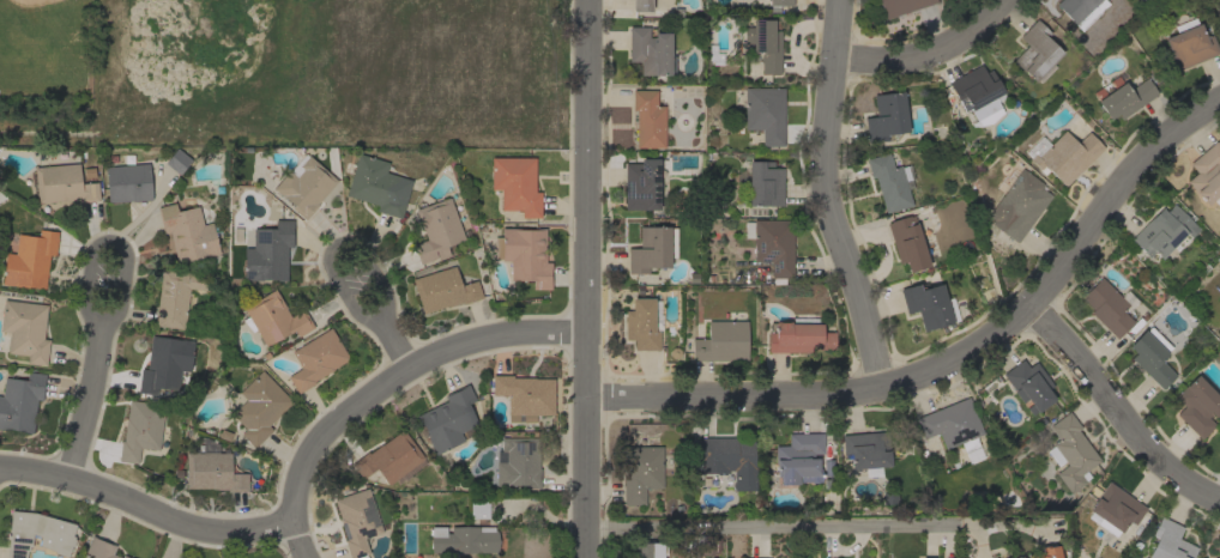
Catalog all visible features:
building: (778, 4)
building: (641, 5)
building: (900, 6)
park: (28, 7)
building: (1075, 8)
building: (763, 43)
building: (1190, 46)
road: (923, 47)
building: (650, 50)
building: (1035, 50)
park: (284, 71)
building: (977, 95)
building: (1124, 98)
building: (765, 113)
building: (886, 116)
building: (648, 119)
building: (1063, 154)
building: (177, 160)
building: (1207, 174)
building: (127, 182)
building: (889, 182)
building: (64, 183)
building: (765, 183)
building: (515, 184)
building: (641, 184)
building: (304, 186)
building: (378, 186)
road: (827, 199)
building: (1017, 202)
building: (436, 230)
building: (1164, 231)
building: (187, 232)
building: (907, 242)
road: (113, 244)
building: (772, 244)
road: (337, 247)
building: (650, 249)
building: (268, 251)
building: (524, 254)
building: (29, 260)
road: (580, 279)
building: (443, 290)
building: (177, 296)
building: (929, 304)
building: (1109, 307)
building: (273, 319)
building: (642, 323)
building: (25, 329)
building: (1218, 333)
building: (798, 335)
building: (721, 341)
road: (395, 344)
building: (1152, 358)
building: (315, 359)
road: (955, 360)
building: (164, 363)
road: (397, 376)
building: (1028, 384)
building: (524, 395)
building: (20, 401)
road: (84, 405)
building: (1197, 406)
building: (259, 407)
road: (1115, 413)
building: (449, 419)
building: (950, 426)
building: (140, 429)
building: (865, 450)
building: (1069, 451)
building: (391, 459)
building: (799, 459)
building: (727, 460)
building: (517, 463)
building: (211, 469)
building: (640, 472)
road: (144, 507)
building: (478, 508)
building: (1115, 510)
building: (356, 521)
road: (775, 526)
building: (37, 533)
building: (463, 539)
road: (297, 540)
building: (1168, 541)
building: (699, 544)
building: (101, 548)
building: (650, 550)
building: (1046, 552)
building: (1017, 557)

